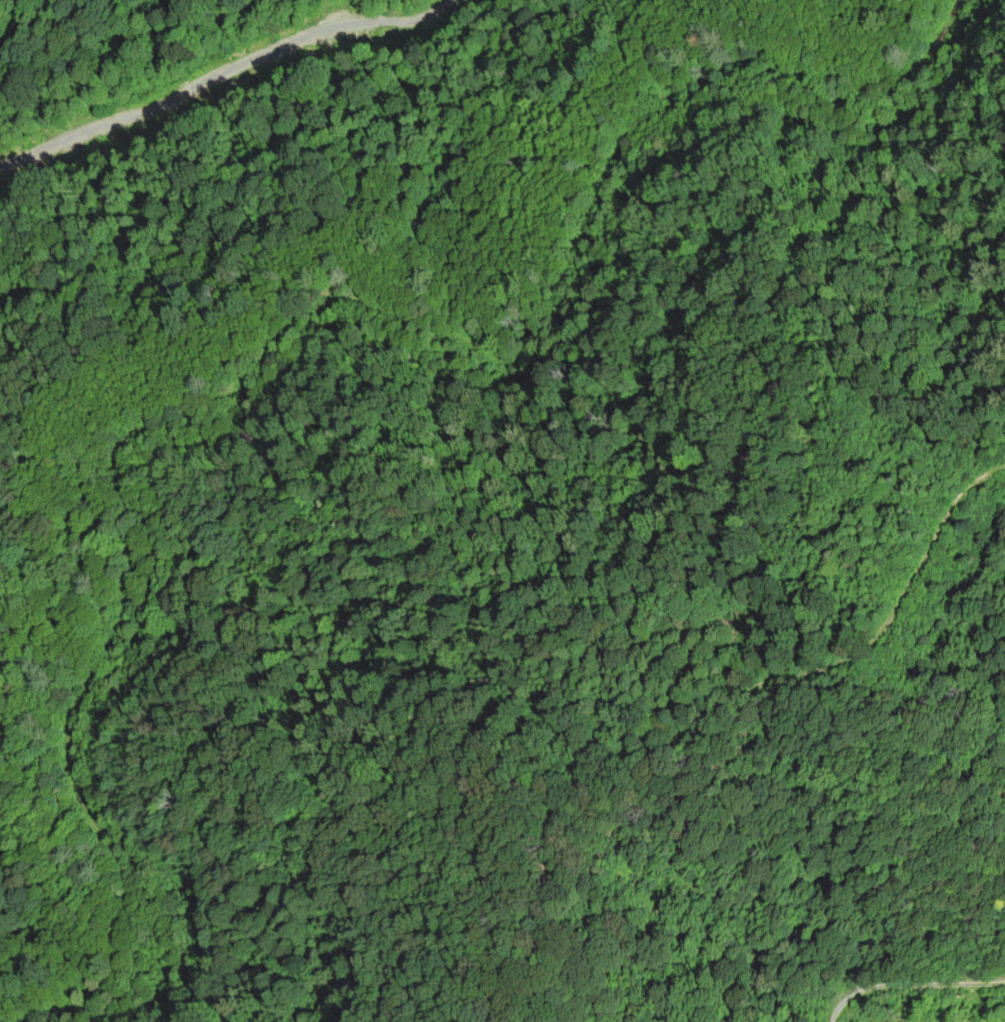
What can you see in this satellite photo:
road: (219, 70)

